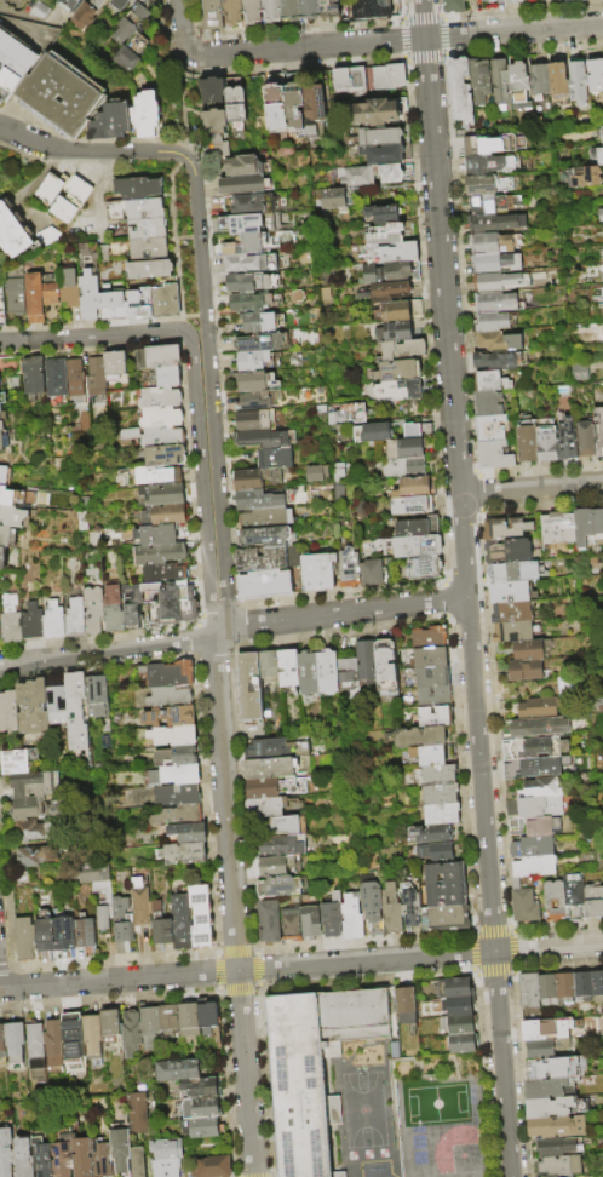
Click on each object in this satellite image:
building: (484, 0)
building: (568, 0)
building: (585, 0)
building: (512, 1)
building: (116, 4)
building: (68, 5)
building: (452, 6)
building: (329, 8)
building: (372, 8)
building: (39, 10)
building: (311, 10)
building: (271, 11)
building: (291, 11)
building: (231, 12)
building: (252, 12)
road: (512, 12)
building: (84, 13)
building: (212, 15)
road: (438, 15)
road: (420, 16)
road: (22, 17)
road: (403, 17)
road: (424, 19)
road: (443, 19)
building: (131, 21)
road: (400, 22)
road: (180, 28)
road: (291, 28)
road: (513, 33)
road: (400, 40)
road: (167, 46)
road: (304, 48)
building: (131, 52)
road: (442, 53)
road: (402, 59)
building: (13, 62)
road: (298, 65)
building: (387, 76)
building: (596, 76)
building: (540, 79)
building: (559, 79)
building: (351, 81)
building: (481, 81)
building: (501, 84)
building: (579, 84)
building: (519, 86)
building: (461, 87)
building: (213, 92)
building: (57, 97)
building: (236, 102)
building: (294, 103)
building: (255, 104)
building: (276, 104)
building: (315, 109)
building: (378, 113)
building: (144, 114)
building: (109, 122)
building: (218, 132)
building: (601, 133)
building: (380, 138)
road: (88, 140)
building: (598, 143)
road: (184, 145)
building: (488, 145)
road: (91, 151)
building: (383, 155)
building: (599, 156)
road: (184, 157)
building: (490, 165)
building: (246, 167)
building: (392, 174)
building: (582, 176)
road: (99, 180)
building: (245, 185)
building: (488, 185)
building: (137, 189)
building: (51, 190)
building: (602, 191)
building: (331, 197)
building: (71, 200)
building: (493, 203)
building: (254, 205)
building: (145, 211)
building: (384, 216)
building: (601, 216)
building: (496, 223)
building: (242, 225)
building: (147, 230)
building: (13, 231)
building: (386, 235)
road: (199, 237)
building: (492, 243)
road: (174, 245)
building: (246, 246)
building: (149, 249)
building: (392, 254)
building: (251, 264)
building: (496, 264)
building: (150, 270)
building: (387, 274)
building: (496, 282)
building: (252, 283)
building: (68, 287)
building: (387, 293)
building: (87, 294)
building: (13, 295)
building: (38, 295)
building: (163, 300)
building: (138, 302)
building: (496, 303)
building: (111, 304)
building: (249, 304)
building: (1, 310)
road: (205, 316)
road: (172, 318)
road: (448, 318)
building: (264, 322)
building: (493, 322)
building: (397, 323)
road: (97, 339)
building: (500, 341)
building: (263, 344)
building: (403, 351)
building: (159, 357)
building: (499, 360)
building: (254, 362)
building: (114, 366)
building: (398, 372)
building: (94, 374)
building: (33, 375)
building: (167, 377)
building: (56, 378)
building: (74, 378)
road: (218, 378)
building: (492, 381)
building: (253, 383)
building: (406, 391)
road: (212, 395)
building: (157, 398)
building: (255, 402)
building: (489, 404)
building: (0, 408)
building: (345, 413)
building: (159, 419)
building: (255, 421)
road: (433, 421)
building: (1, 425)
building: (492, 429)
building: (599, 431)
building: (161, 437)
building: (587, 438)
building: (264, 440)
building: (568, 440)
building: (528, 441)
building: (547, 441)
building: (1, 442)
building: (407, 444)
building: (495, 455)
building: (167, 457)
building: (275, 459)
building: (403, 469)
building: (315, 472)
building: (5, 476)
building: (154, 476)
building: (251, 481)
road: (201, 488)
building: (413, 488)
road: (533, 489)
building: (161, 495)
building: (5, 496)
building: (252, 500)
building: (413, 506)
building: (162, 515)
building: (12, 517)
building: (265, 519)
building: (598, 527)
building: (418, 528)
building: (558, 528)
building: (584, 528)
building: (505, 529)
building: (155, 535)
building: (7, 538)
building: (266, 538)
building: (418, 547)
building: (509, 551)
building: (161, 553)
building: (2, 559)
building: (269, 559)
building: (350, 568)
building: (425, 568)
building: (318, 573)
building: (513, 573)
building: (163, 574)
building: (373, 574)
building: (265, 585)
building: (138, 593)
building: (510, 593)
building: (113, 608)
building: (92, 609)
building: (512, 613)
road: (345, 616)
building: (132, 618)
building: (74, 619)
building: (10, 620)
building: (53, 620)
building: (31, 624)
building: (512, 632)
building: (0, 635)
building: (429, 638)
road: (109, 650)
building: (528, 651)
building: (430, 658)
building: (367, 660)
building: (270, 667)
building: (386, 668)
building: (346, 670)
building: (289, 671)
building: (527, 671)
building: (328, 673)
building: (171, 674)
building: (309, 676)
building: (432, 677)
building: (251, 688)
building: (97, 696)
building: (170, 697)
building: (433, 697)
building: (58, 705)
building: (34, 707)
building: (539, 708)
building: (79, 711)
building: (10, 712)
building: (171, 717)
building: (432, 717)
building: (540, 728)
building: (174, 736)
building: (421, 737)
building: (533, 748)
building: (276, 750)
building: (429, 756)
building: (177, 757)
building: (19, 762)
building: (270, 768)
building: (534, 769)
building: (440, 775)
road: (484, 775)
building: (176, 776)
building: (36, 785)
building: (275, 787)
building: (541, 787)
building: (441, 794)
building: (177, 796)
road: (225, 802)
building: (535, 806)
building: (29, 808)
building: (266, 808)
building: (442, 814)
building: (179, 816)
building: (288, 826)
building: (535, 828)
building: (34, 831)
building: (190, 833)
building: (432, 834)
building: (282, 848)
building: (532, 849)
building: (436, 852)
building: (185, 854)
building: (36, 856)
building: (281, 867)
building: (534, 867)
building: (446, 874)
building: (280, 888)
building: (99, 890)
building: (447, 895)
building: (573, 895)
building: (371, 900)
building: (553, 901)
building: (593, 902)
building: (142, 905)
building: (409, 905)
building: (523, 905)
building: (391, 911)
building: (333, 917)
building: (202, 918)
building: (352, 918)
building: (449, 918)
building: (125, 921)
building: (269, 921)
building: (311, 923)
building: (292, 924)
building: (162, 926)
building: (183, 926)
building: (46, 932)
building: (87, 934)
building: (67, 938)
building: (27, 941)
road: (550, 948)
road: (368, 963)
road: (119, 981)
building: (582, 986)
building: (597, 986)
building: (454, 988)
building: (564, 988)
building: (547, 989)
building: (528, 991)
building: (404, 1005)
building: (458, 1006)
building: (207, 1015)
building: (168, 1016)
building: (188, 1020)
building: (109, 1024)
building: (458, 1024)
building: (149, 1027)
building: (545, 1029)
building: (131, 1033)
building: (71, 1035)
building: (92, 1038)
building: (13, 1041)
building: (1, 1043)
building: (53, 1044)
building: (460, 1044)
building: (34, 1047)
building: (549, 1049)
road: (505, 1064)
building: (314, 1068)
building: (555, 1068)
building: (177, 1070)
road: (246, 1074)
building: (200, 1087)
building: (549, 1089)
park: (431, 1102)
building: (201, 1108)
building: (555, 1108)
building: (137, 1110)
building: (556, 1126)
building: (201, 1127)
building: (555, 1147)
building: (120, 1149)
building: (5, 1153)
building: (62, 1154)
building: (81, 1156)
building: (22, 1158)
building: (41, 1158)
building: (166, 1158)
building: (100, 1159)
building: (137, 1161)
building: (558, 1166)
building: (212, 1167)
building: (553, 1176)
building: (569, 1176)

